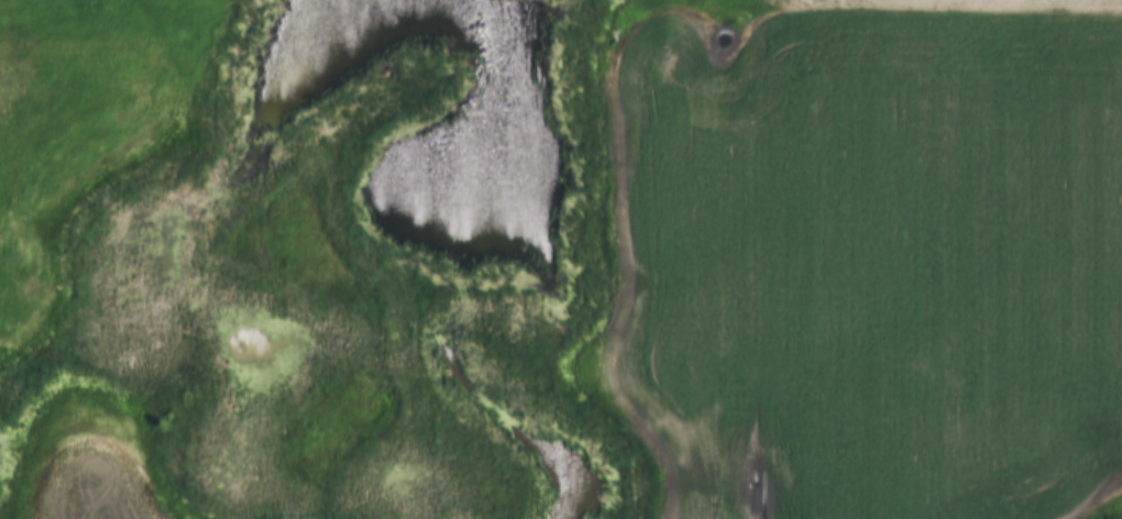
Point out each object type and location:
road: (876, 9)

